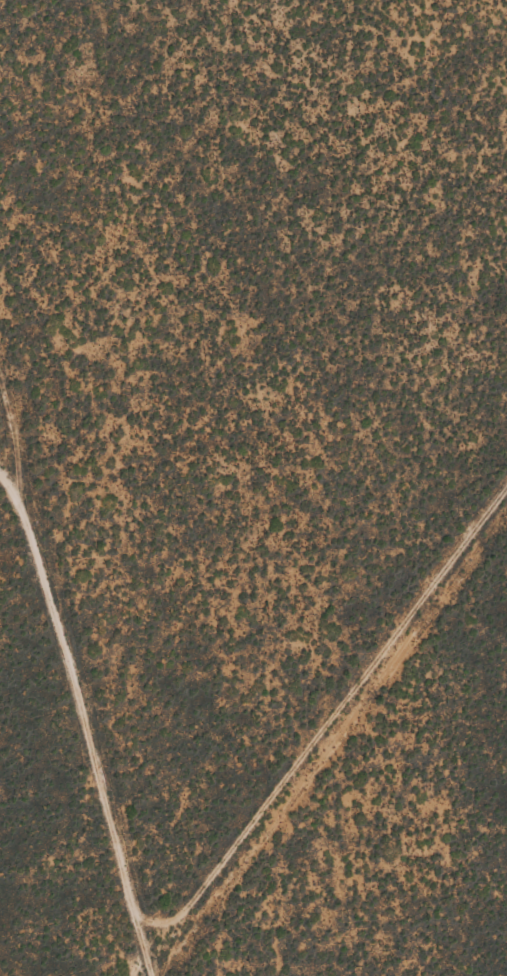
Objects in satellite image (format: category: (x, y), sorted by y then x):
road: (43, 432)
road: (122, 755)

